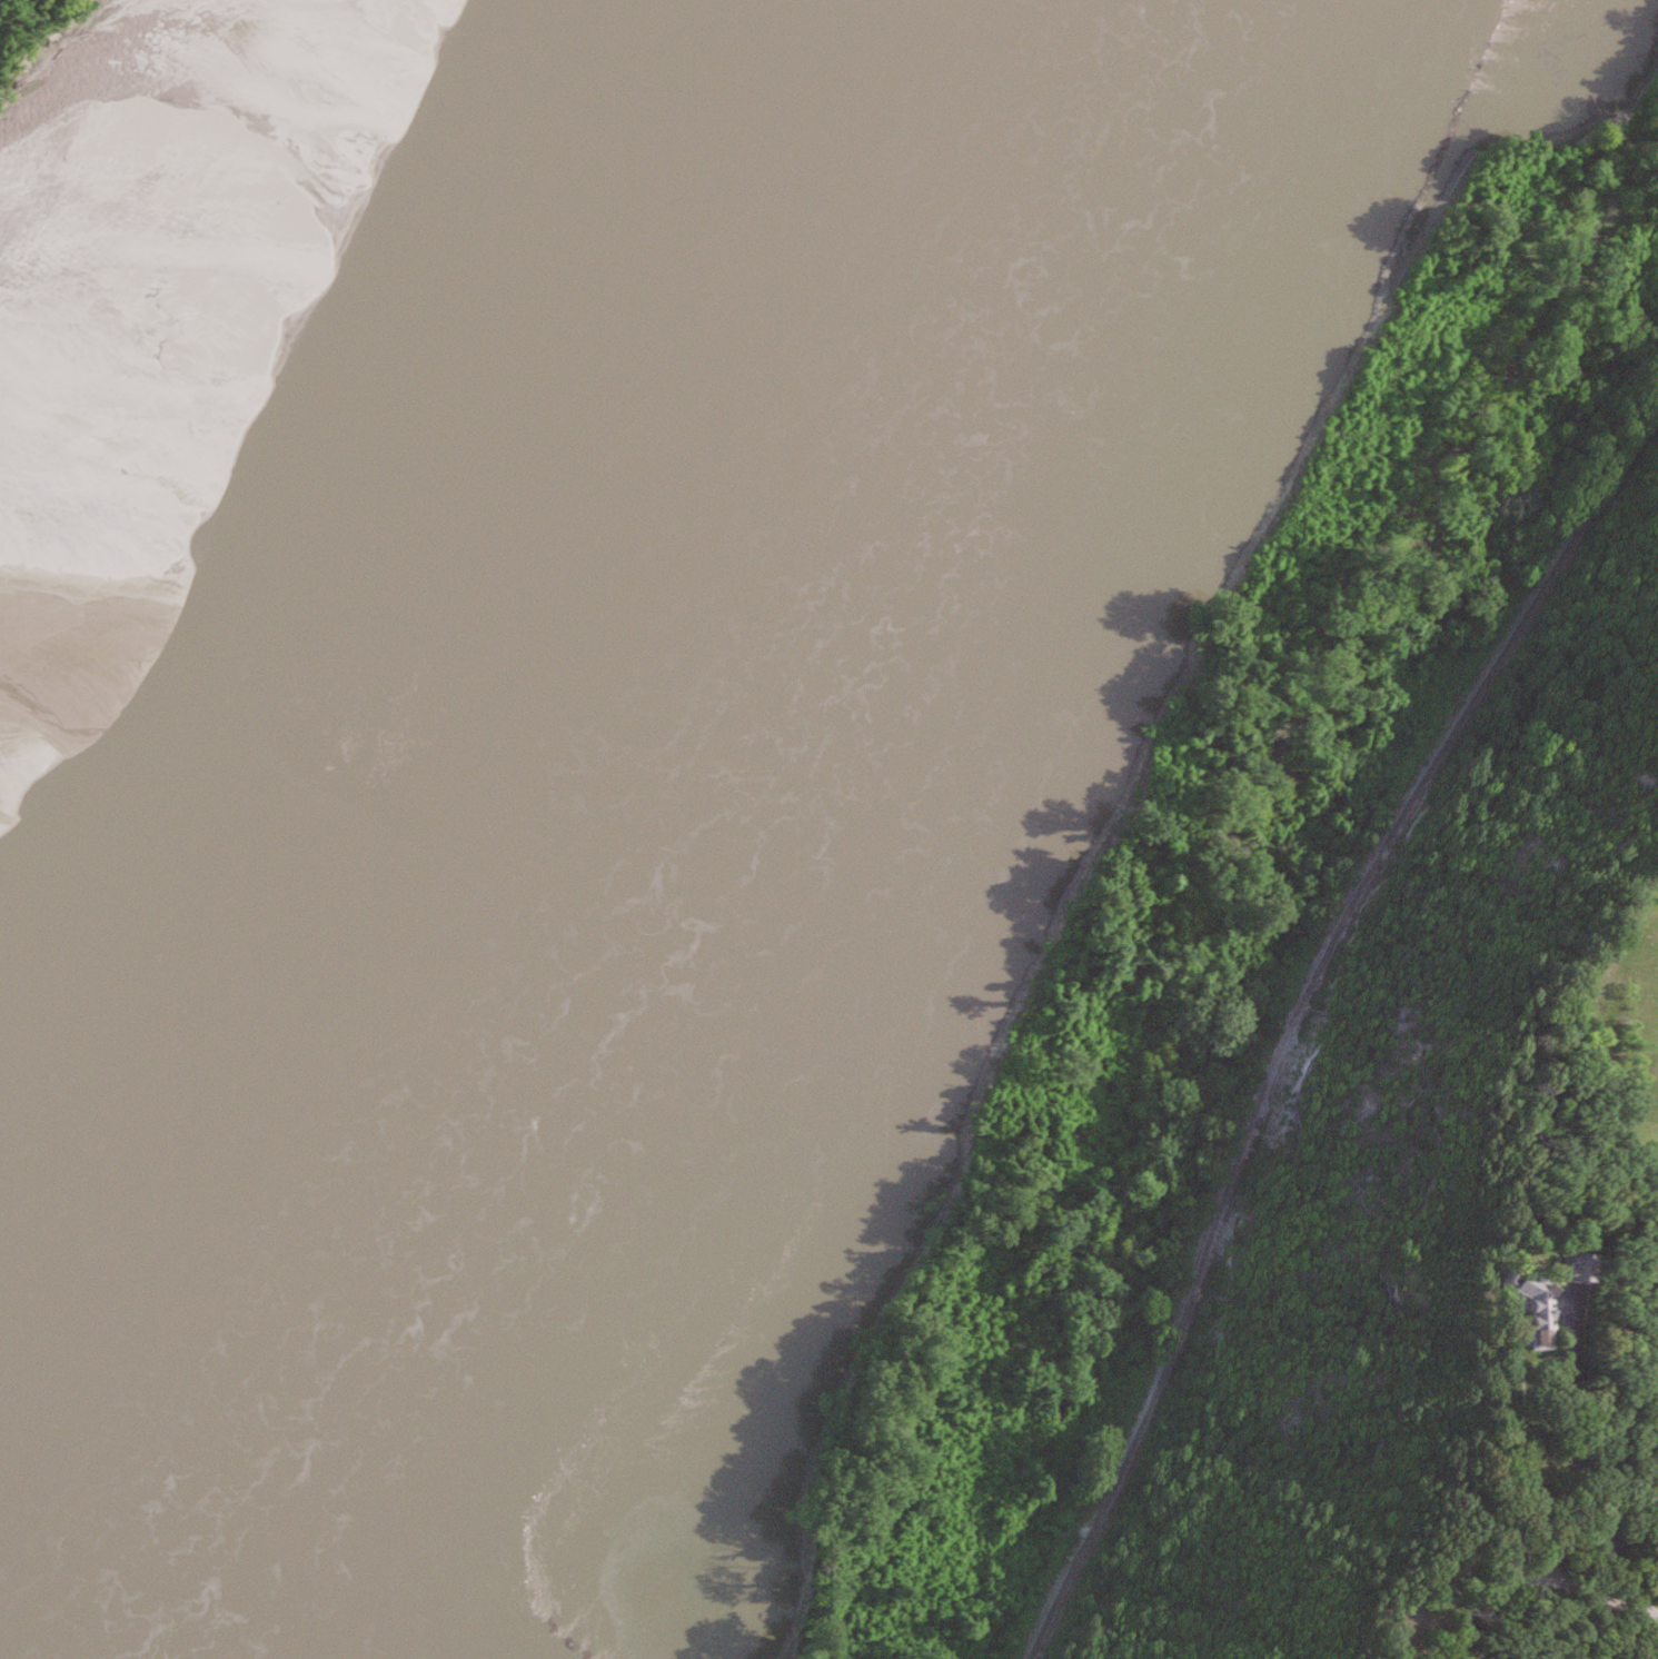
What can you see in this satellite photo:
river: (529, 735)
railway: (1294, 1011)
building: (1586, 1264)
building: (1546, 1310)
road: (1581, 1442)
road: (1535, 1574)

